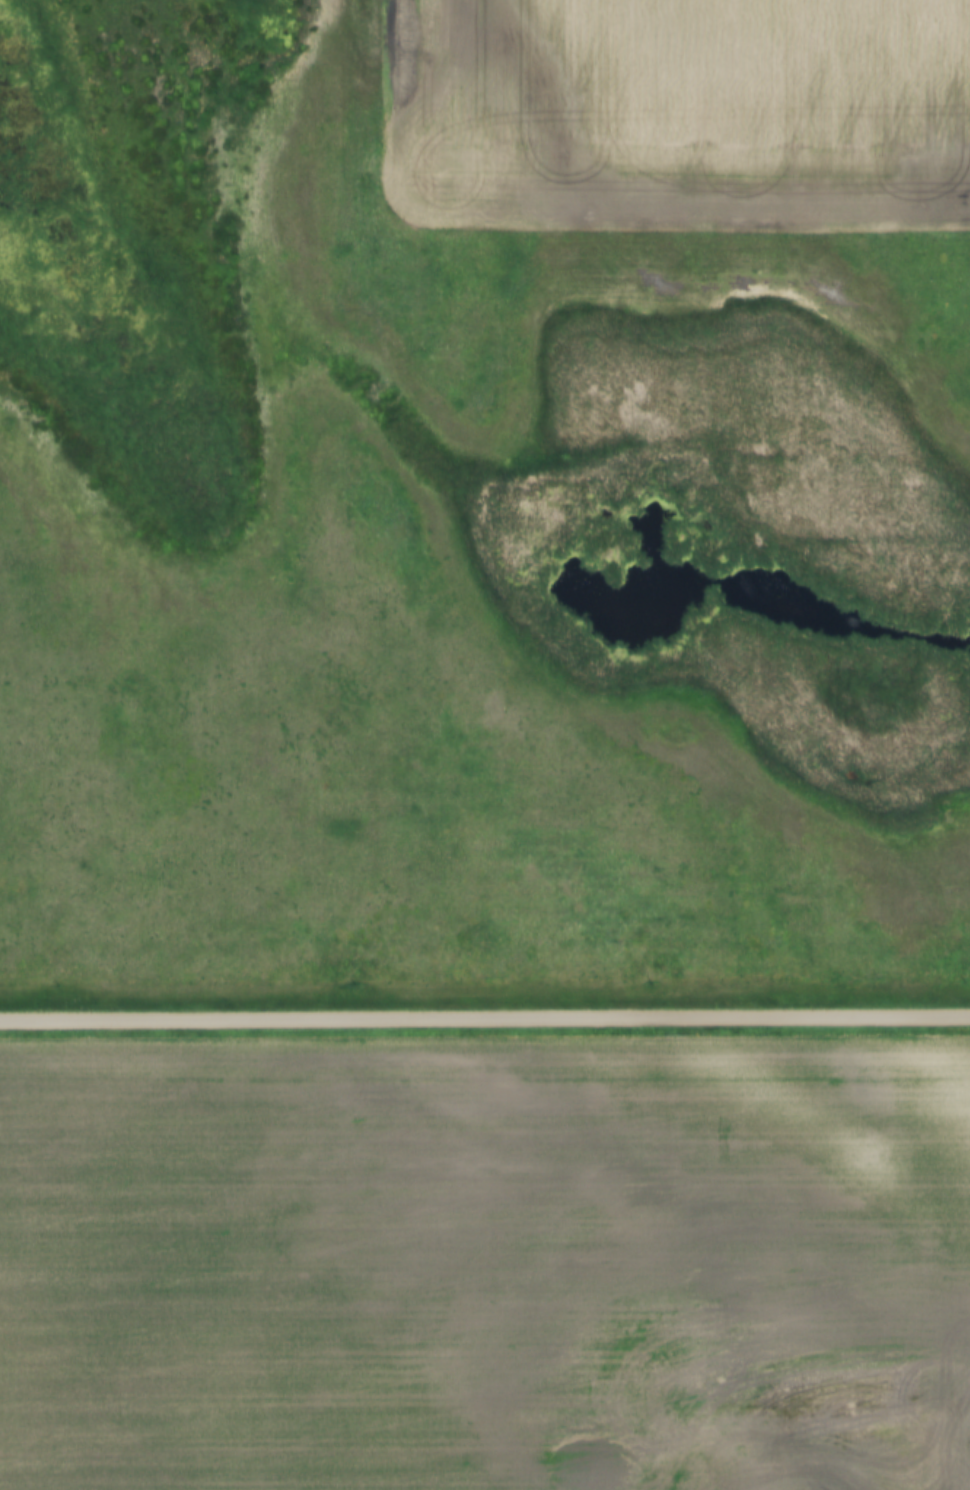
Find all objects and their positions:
road: (485, 1016)

